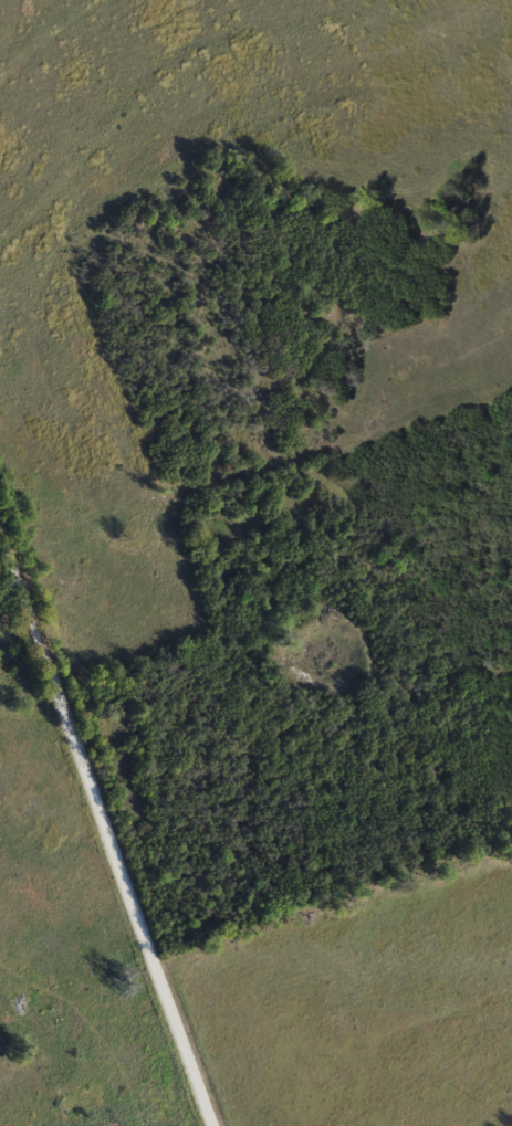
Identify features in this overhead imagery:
road: (100, 838)

